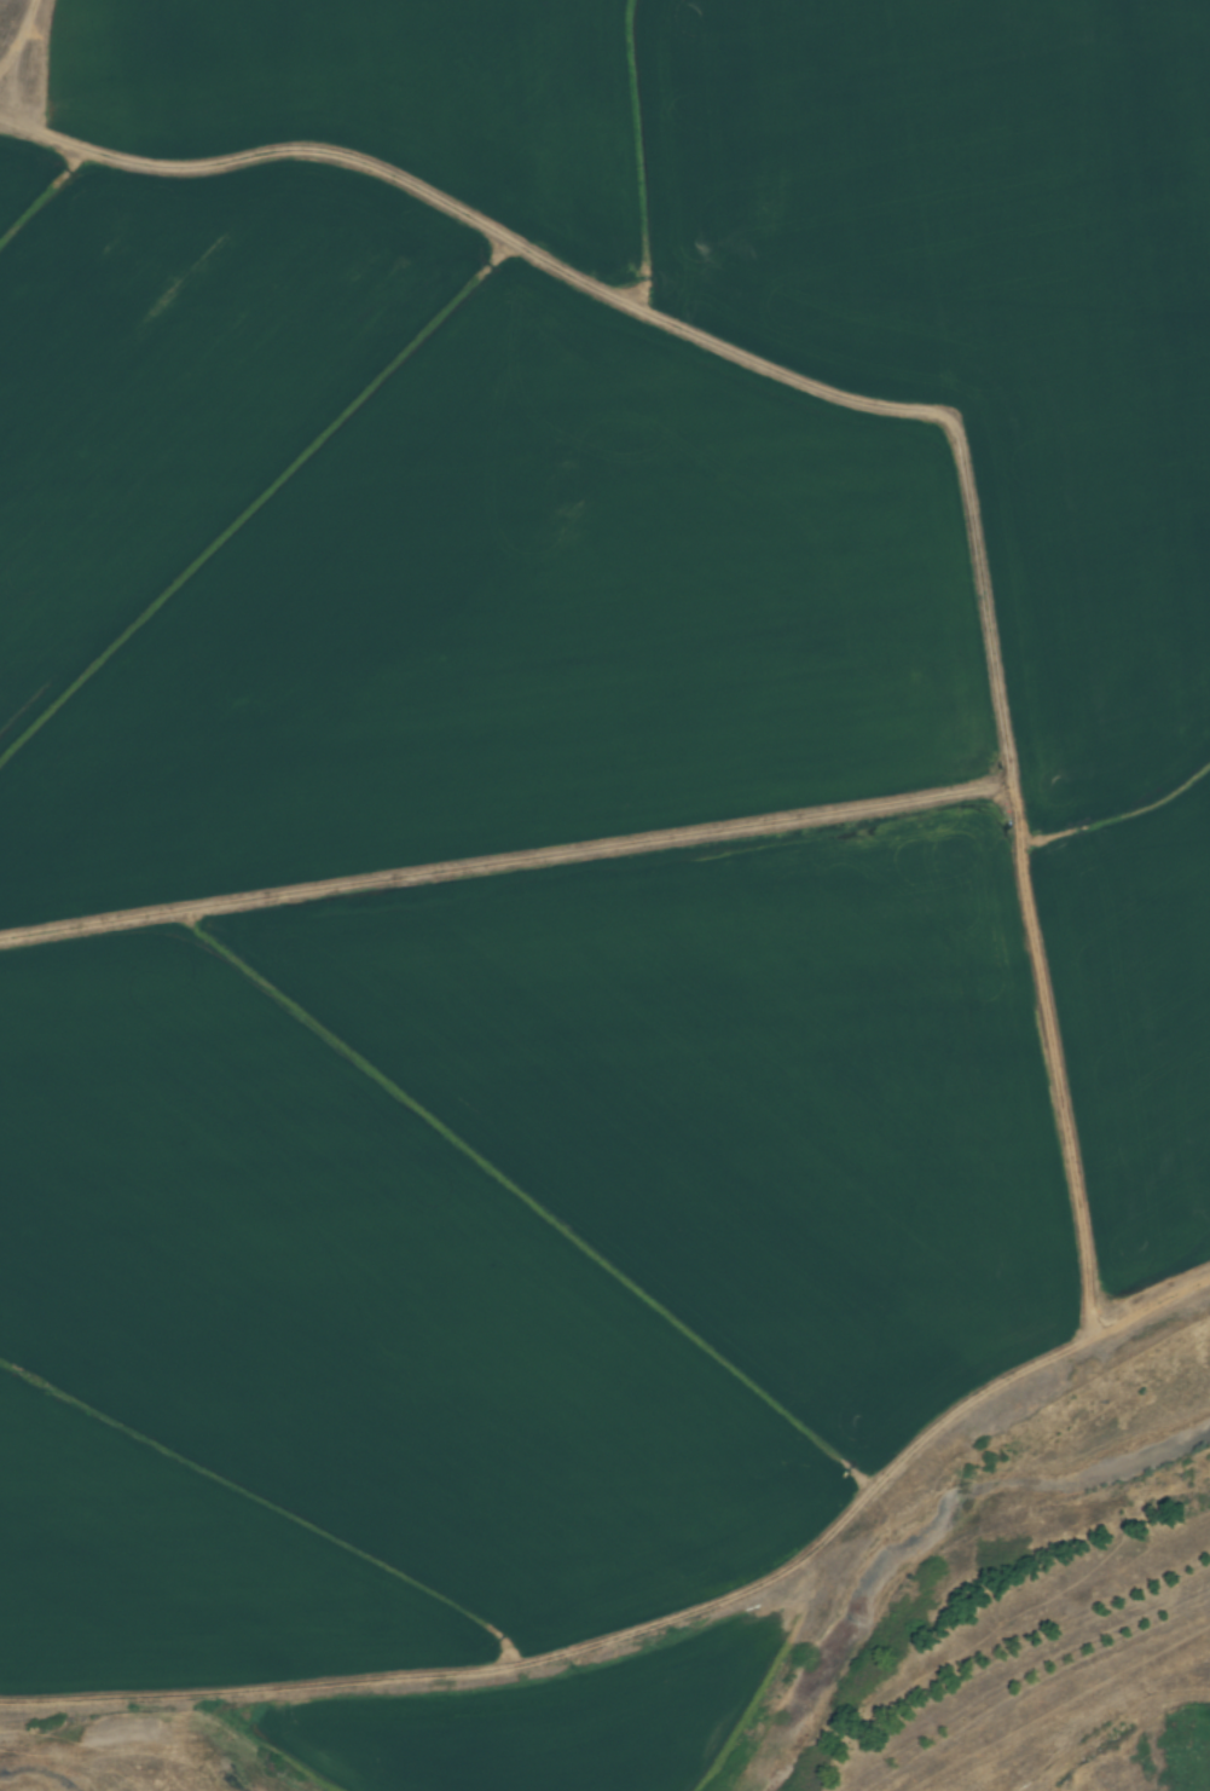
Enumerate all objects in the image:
road: (655, 1610)

